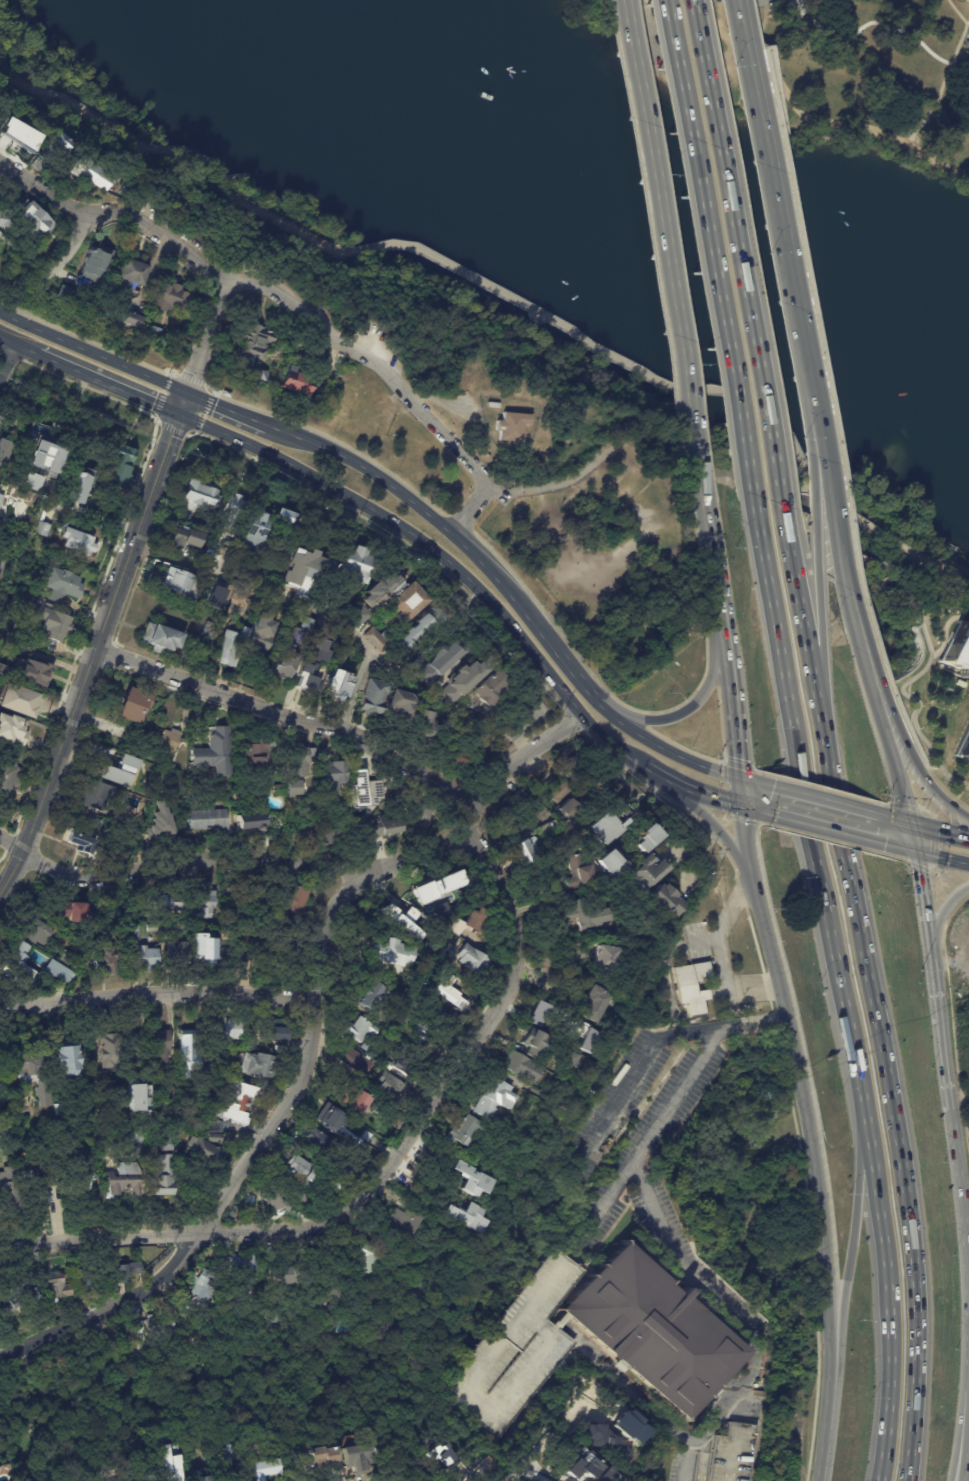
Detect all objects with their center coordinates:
park: (586, 20)
road: (967, 22)
road: (761, 23)
road: (869, 23)
road: (722, 31)
building: (967, 42)
parking lot: (692, 47)
road: (774, 60)
road: (0, 63)
road: (947, 74)
park: (875, 75)
road: (71, 103)
road: (869, 128)
building: (18, 134)
building: (52, 152)
road: (198, 158)
river: (638, 167)
building: (93, 175)
road: (769, 184)
road: (116, 212)
road: (265, 215)
building: (6, 219)
building: (35, 221)
road: (320, 241)
road: (662, 242)
road: (647, 243)
road: (707, 246)
road: (62, 253)
road: (735, 253)
building: (93, 265)
building: (133, 275)
building: (67, 294)
building: (171, 299)
building: (129, 320)
road: (814, 322)
building: (153, 332)
road: (207, 334)
road: (586, 339)
building: (253, 345)
road: (18, 346)
road: (92, 353)
road: (7, 361)
building: (243, 371)
road: (391, 377)
building: (300, 380)
road: (192, 381)
park: (415, 384)
road: (107, 385)
traffic signals: (186, 392)
building: (225, 393)
road: (162, 397)
road: (203, 398)
building: (315, 400)
road: (182, 404)
road: (204, 413)
road: (245, 415)
traffic signals: (178, 416)
building: (514, 427)
road: (174, 430)
road: (807, 443)
building: (4, 452)
road: (164, 455)
building: (45, 459)
railway: (765, 464)
building: (118, 467)
road: (826, 476)
road: (566, 479)
building: (29, 480)
building: (77, 490)
road: (827, 491)
building: (3, 493)
building: (196, 494)
road: (372, 510)
road: (421, 510)
building: (231, 511)
building: (281, 515)
road: (708, 519)
road: (455, 527)
road: (842, 527)
building: (41, 530)
building: (252, 530)
road: (882, 534)
building: (183, 539)
building: (76, 543)
building: (3, 564)
building: (352, 565)
road: (925, 565)
road: (941, 569)
building: (300, 570)
road: (124, 571)
building: (236, 572)
road: (908, 573)
road: (901, 576)
building: (178, 583)
building: (59, 586)
building: (380, 591)
road: (717, 593)
building: (235, 595)
building: (197, 597)
building: (328, 599)
road: (295, 602)
building: (215, 603)
building: (404, 605)
building: (360, 619)
road: (805, 620)
building: (53, 624)
building: (305, 625)
road: (821, 626)
building: (423, 629)
building: (207, 631)
building: (18, 633)
building: (258, 634)
building: (159, 638)
building: (379, 639)
building: (229, 647)
building: (955, 649)
building: (440, 663)
building: (285, 665)
building: (311, 668)
road: (572, 673)
building: (27, 674)
building: (338, 681)
building: (462, 683)
building: (491, 689)
building: (374, 698)
road: (917, 702)
building: (16, 703)
building: (132, 704)
road: (732, 705)
road: (869, 705)
building: (399, 708)
road: (579, 711)
road: (643, 711)
road: (689, 711)
road: (902, 711)
road: (891, 712)
road: (286, 716)
building: (423, 727)
building: (12, 731)
building: (169, 740)
building: (963, 747)
road: (685, 748)
road: (669, 751)
building: (213, 752)
building: (257, 754)
building: (457, 758)
building: (296, 760)
building: (176, 767)
road: (801, 767)
building: (118, 769)
building: (572, 769)
road: (53, 771)
building: (7, 773)
road: (651, 773)
building: (336, 775)
traffic signals: (741, 779)
building: (303, 783)
road: (753, 783)
road: (967, 786)
building: (296, 787)
building: (365, 787)
building: (281, 789)
road: (824, 790)
building: (547, 792)
road: (741, 792)
building: (95, 794)
building: (598, 796)
road: (704, 797)
road: (824, 802)
traffic signals: (741, 805)
road: (748, 806)
building: (568, 808)
building: (422, 811)
road: (926, 811)
building: (210, 820)
road: (803, 820)
building: (513, 821)
road: (894, 821)
building: (163, 822)
building: (608, 823)
traffic signals: (905, 824)
building: (387, 825)
road: (717, 827)
building: (250, 830)
road: (937, 830)
building: (187, 834)
building: (312, 834)
building: (333, 835)
building: (644, 836)
road: (907, 836)
road: (867, 837)
building: (86, 845)
road: (896, 845)
road: (697, 847)
traffic signals: (909, 849)
building: (524, 852)
road: (938, 856)
road: (185, 861)
building: (607, 861)
building: (645, 870)
building: (578, 873)
building: (438, 886)
building: (235, 900)
building: (662, 900)
building: (173, 901)
building: (204, 905)
building: (297, 905)
building: (70, 910)
building: (585, 914)
building: (426, 917)
building: (476, 918)
building: (403, 920)
road: (921, 920)
building: (167, 926)
building: (153, 927)
building: (36, 930)
building: (138, 932)
road: (935, 933)
building: (233, 952)
building: (392, 952)
building: (180, 953)
road: (720, 953)
building: (204, 954)
building: (281, 955)
building: (66, 957)
building: (146, 957)
building: (445, 958)
building: (606, 958)
building: (106, 959)
building: (472, 959)
road: (963, 959)
building: (16, 968)
building: (61, 972)
building: (691, 987)
building: (449, 991)
building: (369, 994)
road: (161, 998)
building: (594, 1003)
building: (540, 1011)
building: (428, 1015)
road: (755, 1026)
building: (230, 1027)
building: (360, 1029)
building: (280, 1033)
building: (583, 1037)
building: (530, 1041)
building: (161, 1045)
building: (365, 1047)
building: (108, 1050)
road: (309, 1050)
road: (942, 1051)
building: (190, 1052)
building: (67, 1059)
building: (357, 1061)
building: (568, 1062)
building: (218, 1063)
building: (259, 1065)
building: (521, 1066)
building: (405, 1069)
building: (1, 1071)
building: (32, 1072)
road: (630, 1082)
building: (391, 1087)
road: (676, 1092)
building: (171, 1096)
building: (495, 1098)
building: (355, 1099)
building: (16, 1101)
building: (139, 1102)
building: (237, 1103)
building: (567, 1105)
road: (892, 1106)
building: (1, 1112)
building: (333, 1119)
building: (187, 1121)
building: (396, 1124)
building: (216, 1126)
building: (467, 1132)
building: (216, 1138)
road: (809, 1140)
building: (139, 1143)
building: (168, 1144)
building: (317, 1144)
parking lot: (649, 1150)
building: (204, 1152)
building: (90, 1159)
building: (348, 1167)
road: (393, 1169)
building: (300, 1170)
building: (91, 1176)
building: (131, 1177)
building: (73, 1182)
building: (490, 1183)
building: (163, 1184)
building: (336, 1184)
building: (37, 1189)
building: (10, 1192)
road: (959, 1194)
building: (282, 1197)
road: (579, 1199)
road: (600, 1205)
building: (465, 1211)
building: (407, 1221)
building: (368, 1259)
road: (884, 1260)
road: (849, 1261)
building: (236, 1267)
building: (125, 1272)
building: (291, 1274)
building: (81, 1281)
road: (968, 1283)
building: (56, 1286)
building: (334, 1287)
building: (423, 1288)
building: (31, 1289)
building: (202, 1291)
building: (244, 1295)
building: (6, 1307)
building: (272, 1317)
road: (737, 1318)
building: (212, 1319)
building: (161, 1325)
building: (139, 1327)
building: (657, 1330)
building: (516, 1349)
parking garage: (516, 1349)
road: (962, 1380)
road: (475, 1386)
road: (633, 1393)
road: (739, 1403)
parking lot: (723, 1451)
road: (966, 1451)
road: (733, 1452)
building: (444, 1456)
building: (728, 1456)
building: (229, 1457)
building: (358, 1459)
building: (321, 1461)
building: (135, 1462)
building: (169, 1463)
road: (531, 1464)
building: (578, 1465)
building: (266, 1470)
building: (586, 1474)
building: (602, 1475)
building: (228, 1477)
building: (206, 1479)

